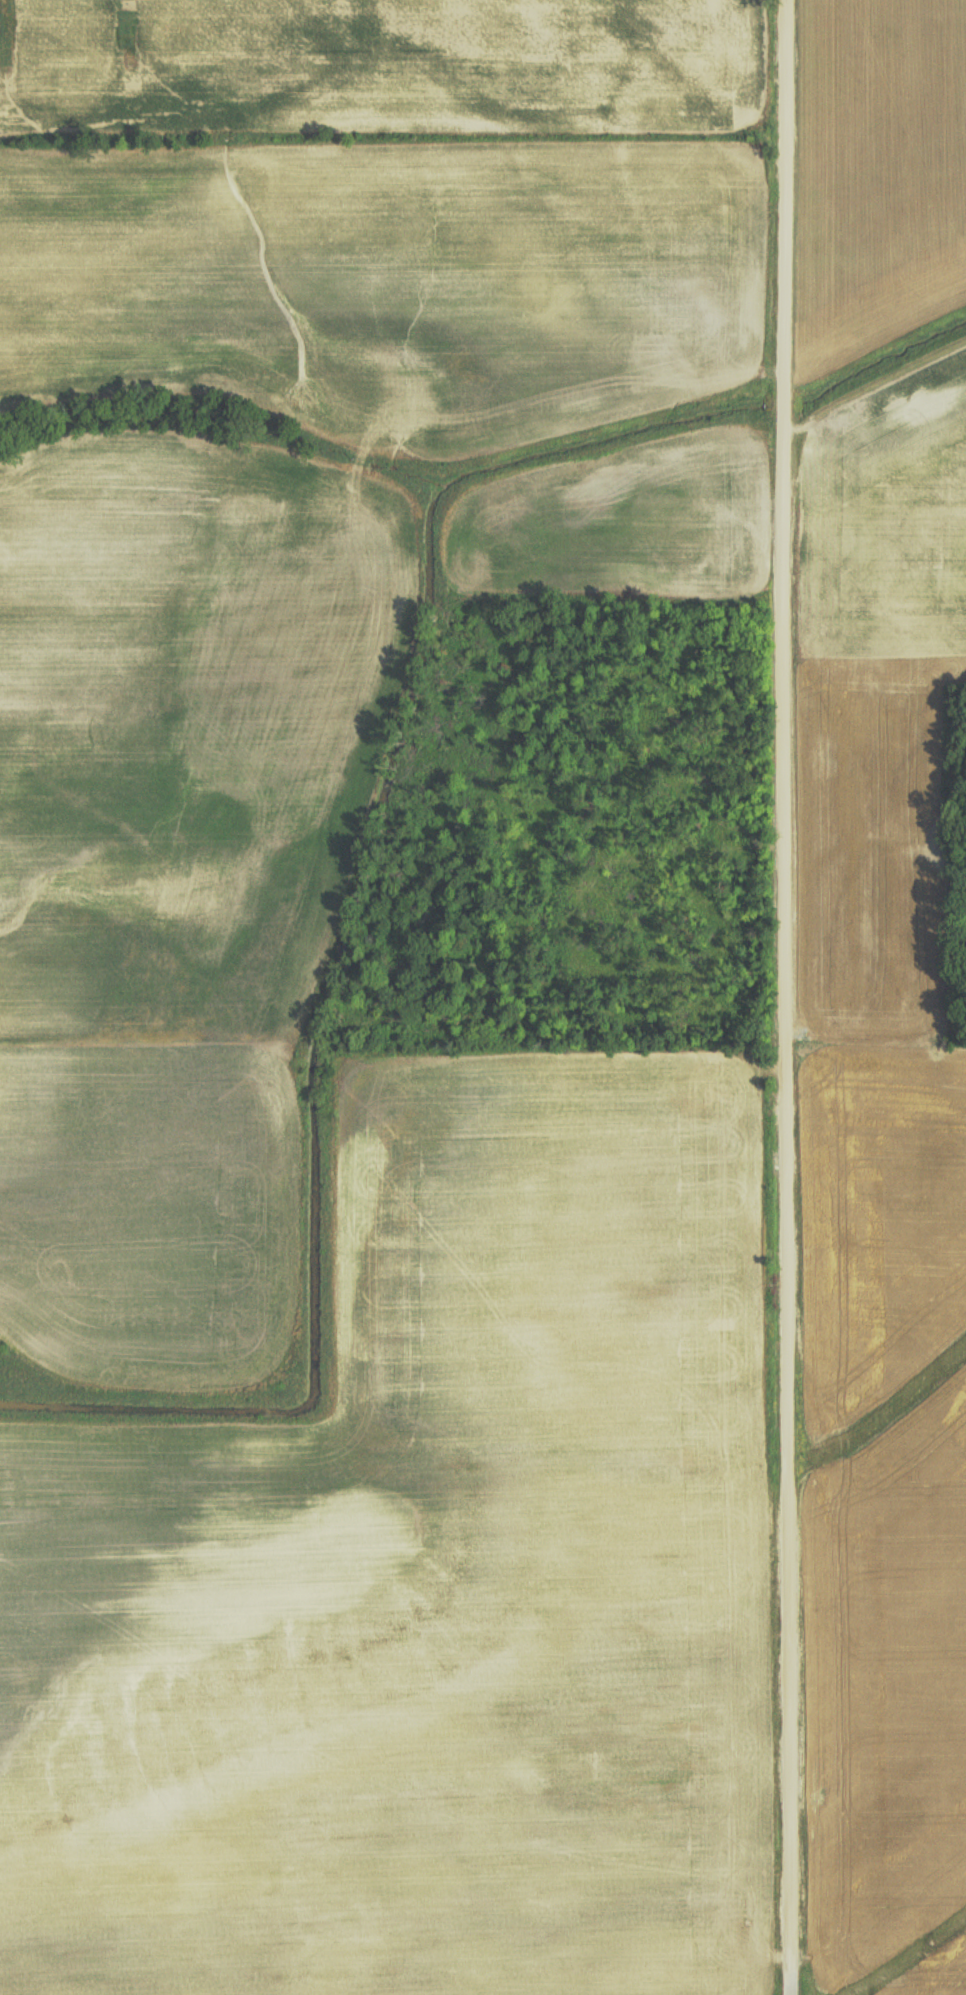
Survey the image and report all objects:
crop: (377, 67)
crop: (377, 276)
crop: (194, 744)
road: (784, 997)
crop: (150, 1233)
crop: (425, 1589)
crop: (938, 1973)

